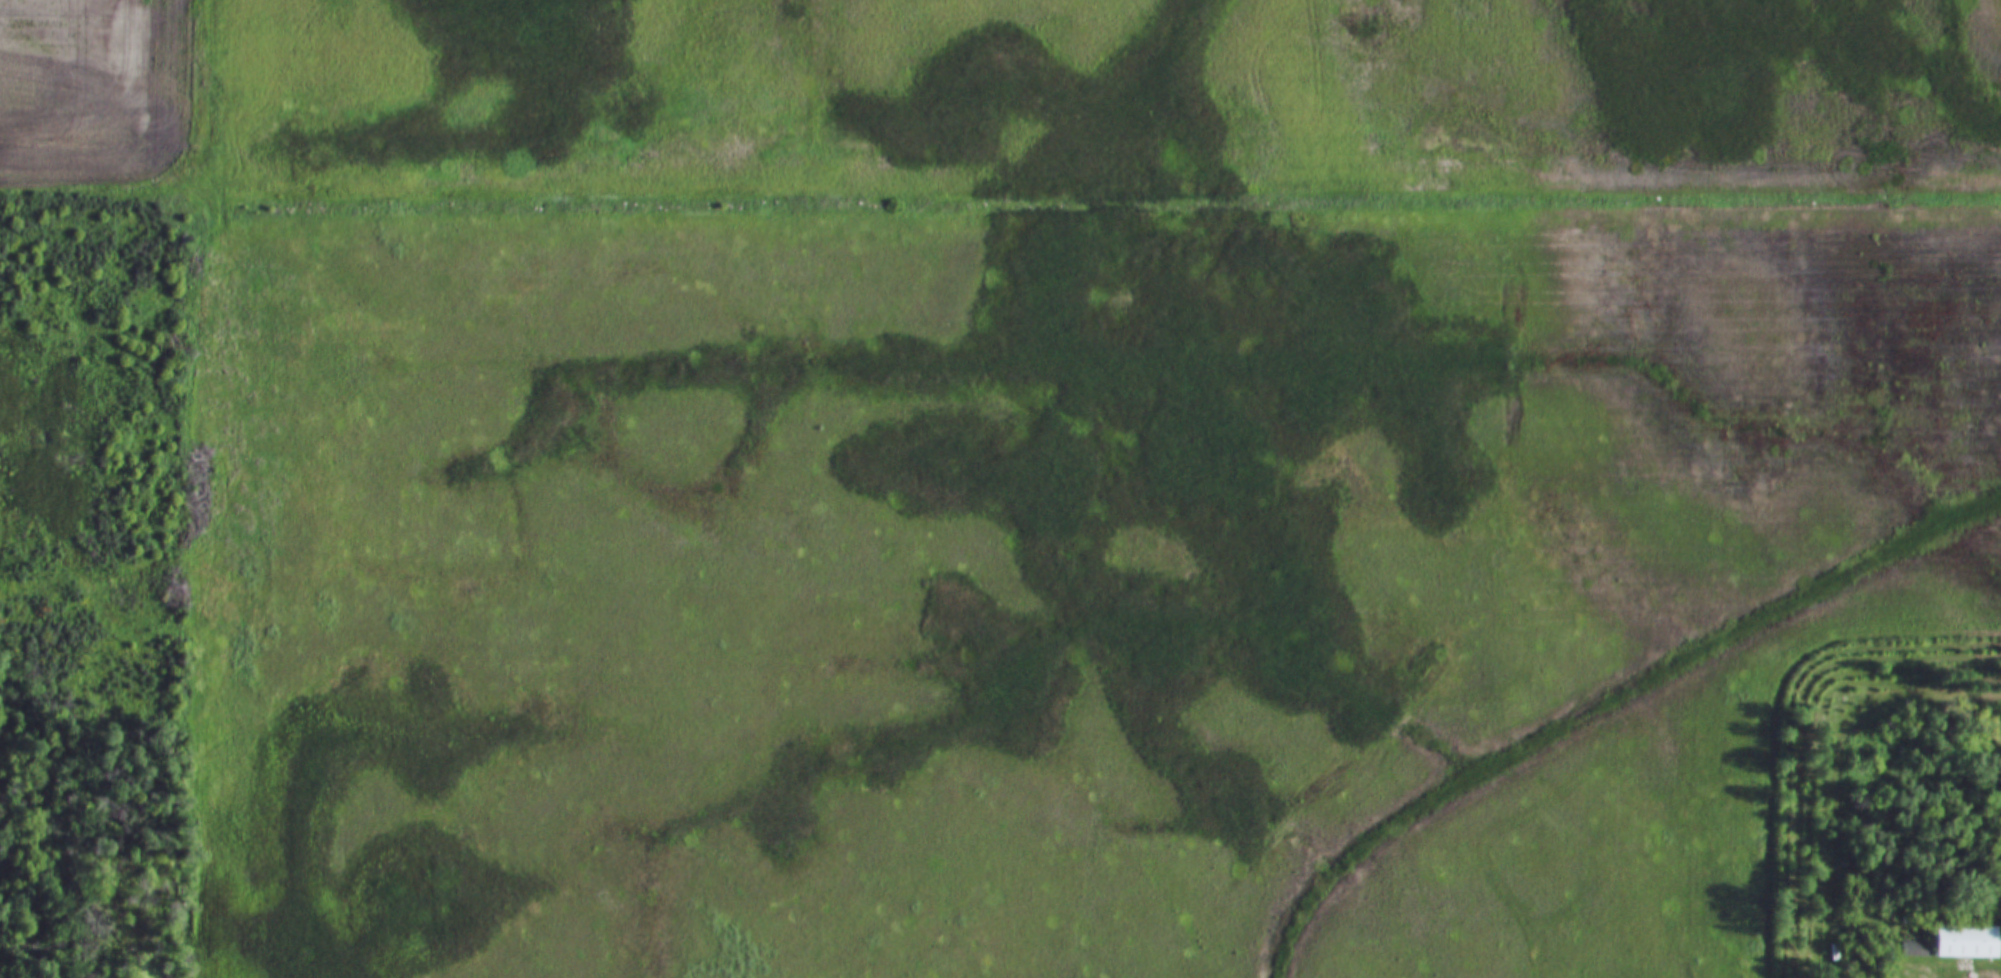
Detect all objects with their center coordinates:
building: (1965, 942)
building: (1914, 949)

